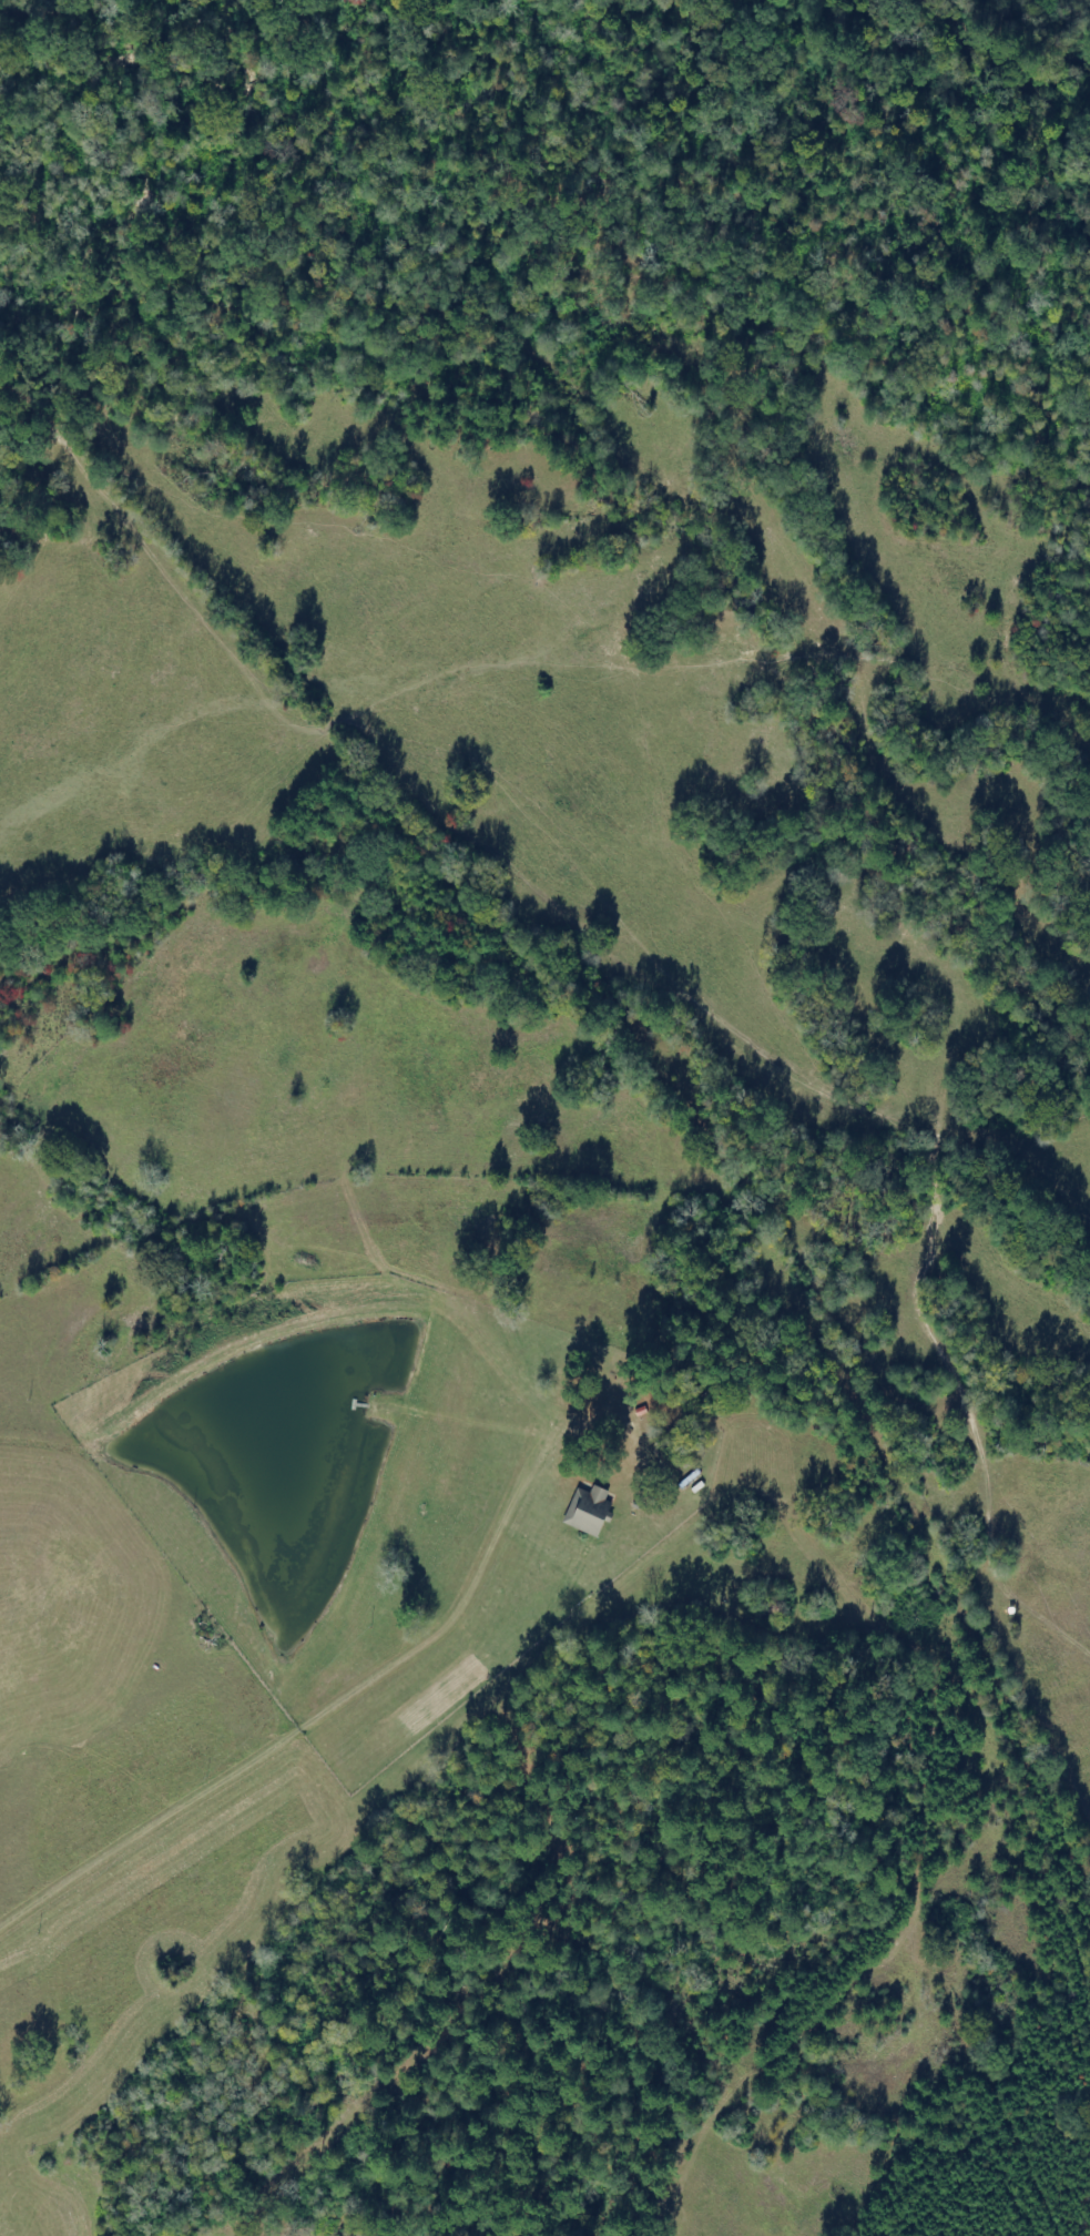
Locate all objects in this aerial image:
building: (592, 1512)

